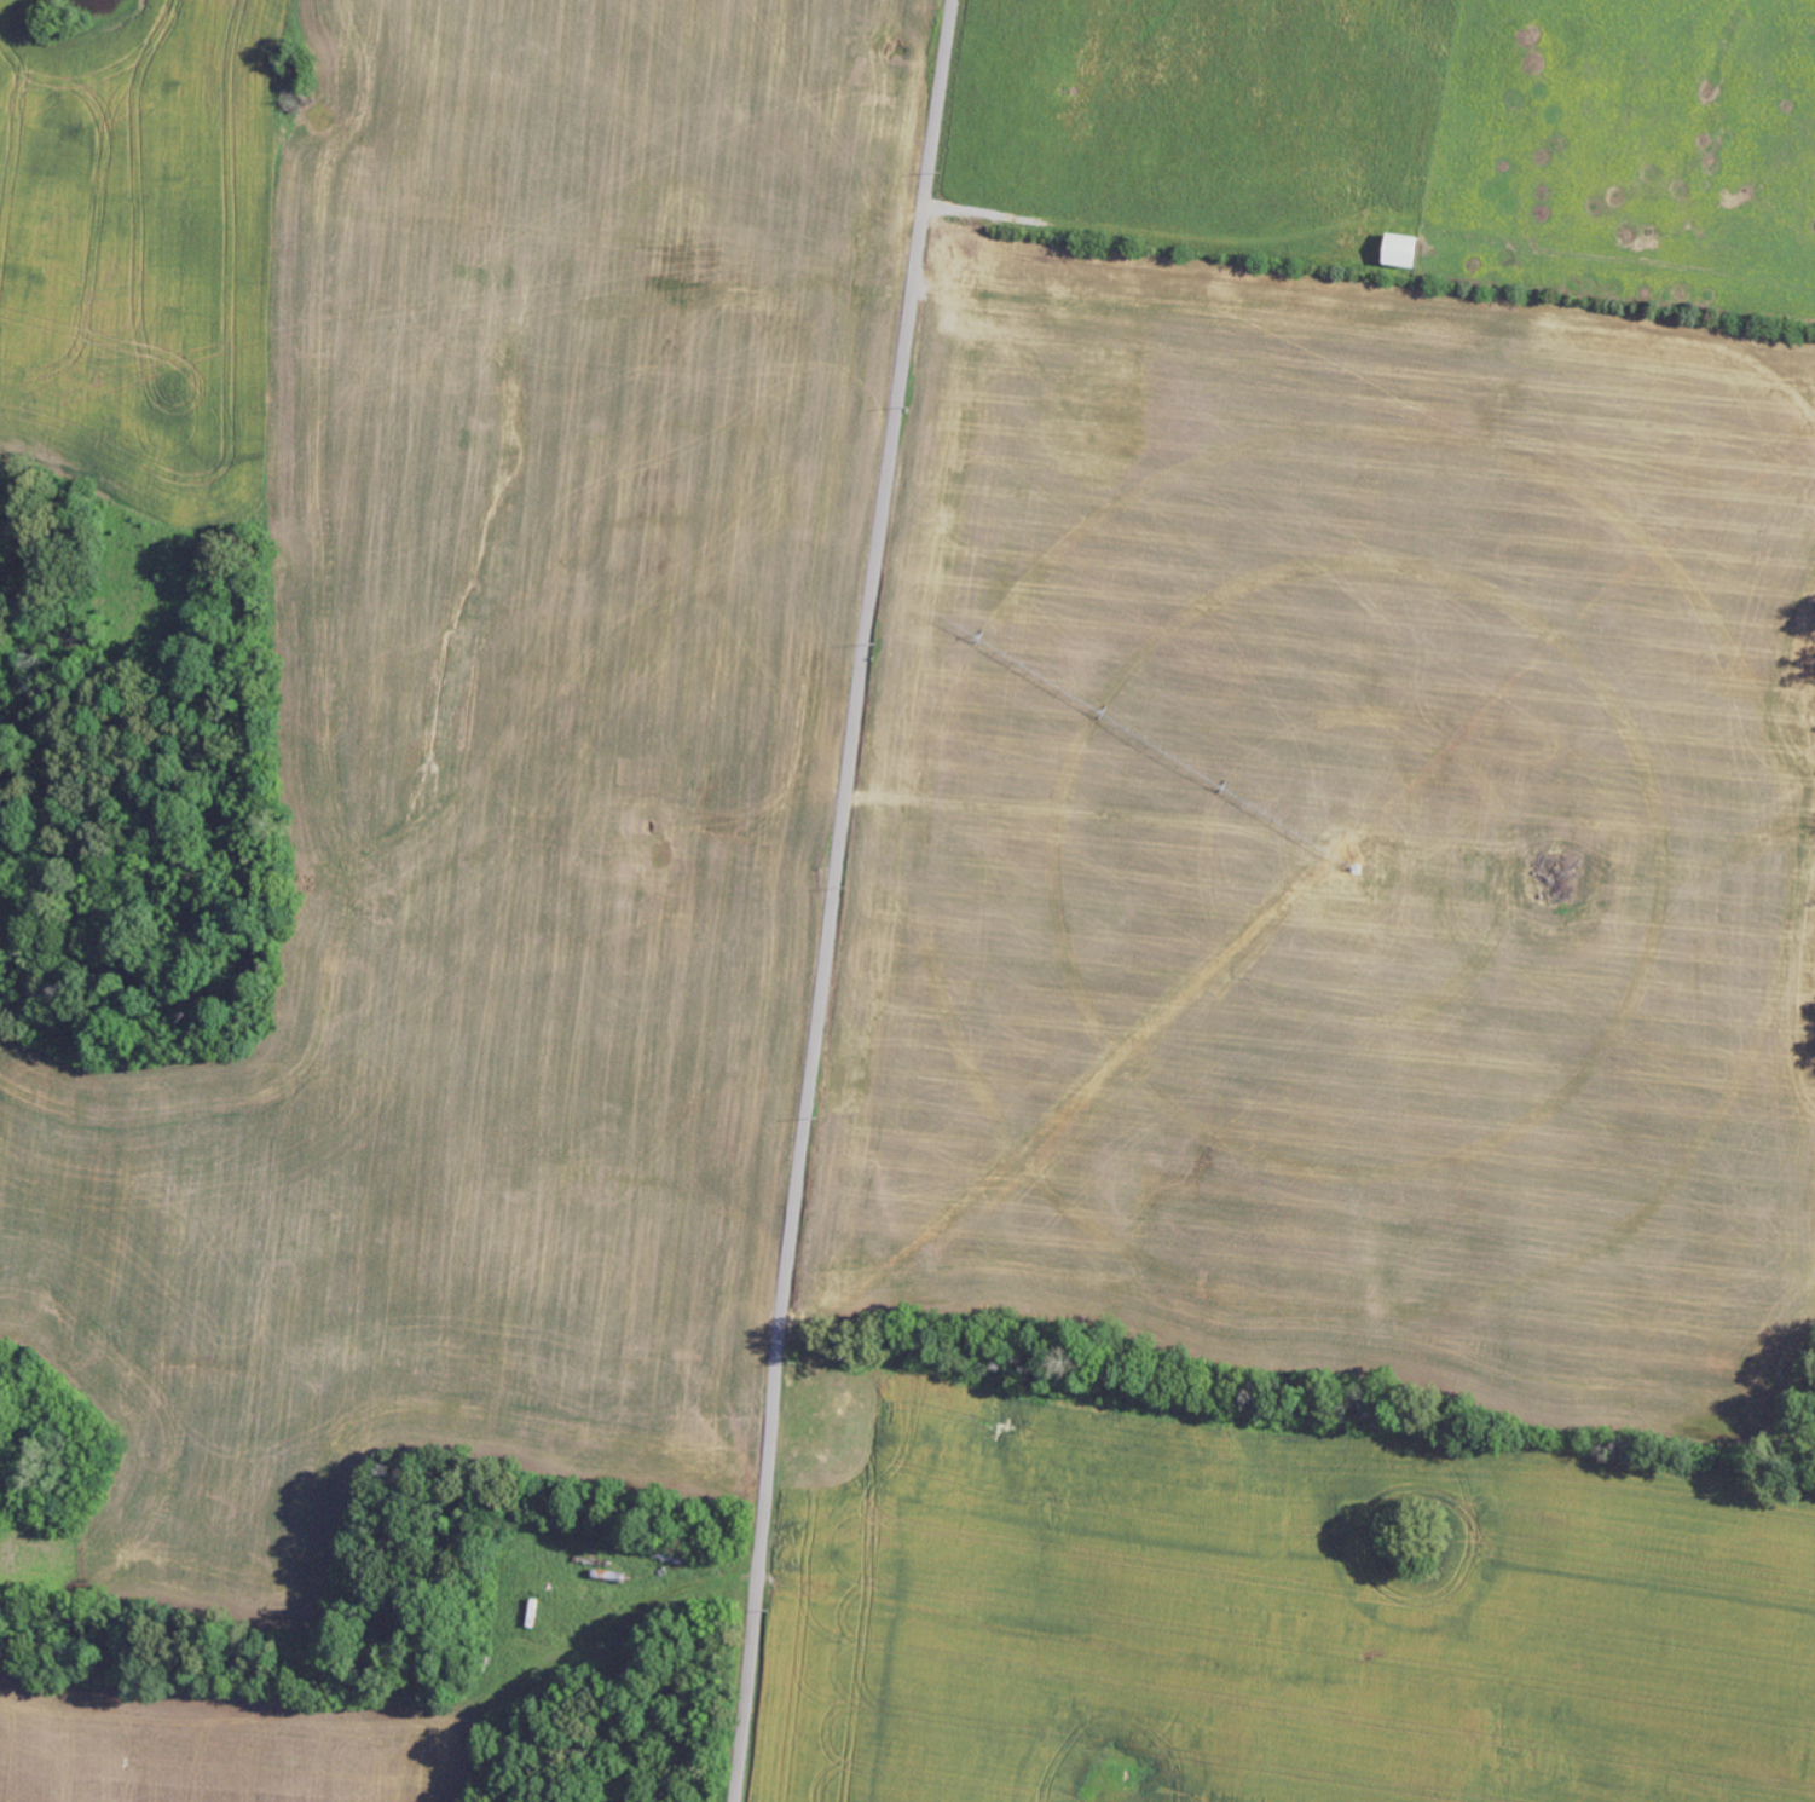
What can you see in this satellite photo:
building: (1404, 250)
road: (1083, 314)
road: (346, 371)
road: (831, 899)
road: (828, 1617)

